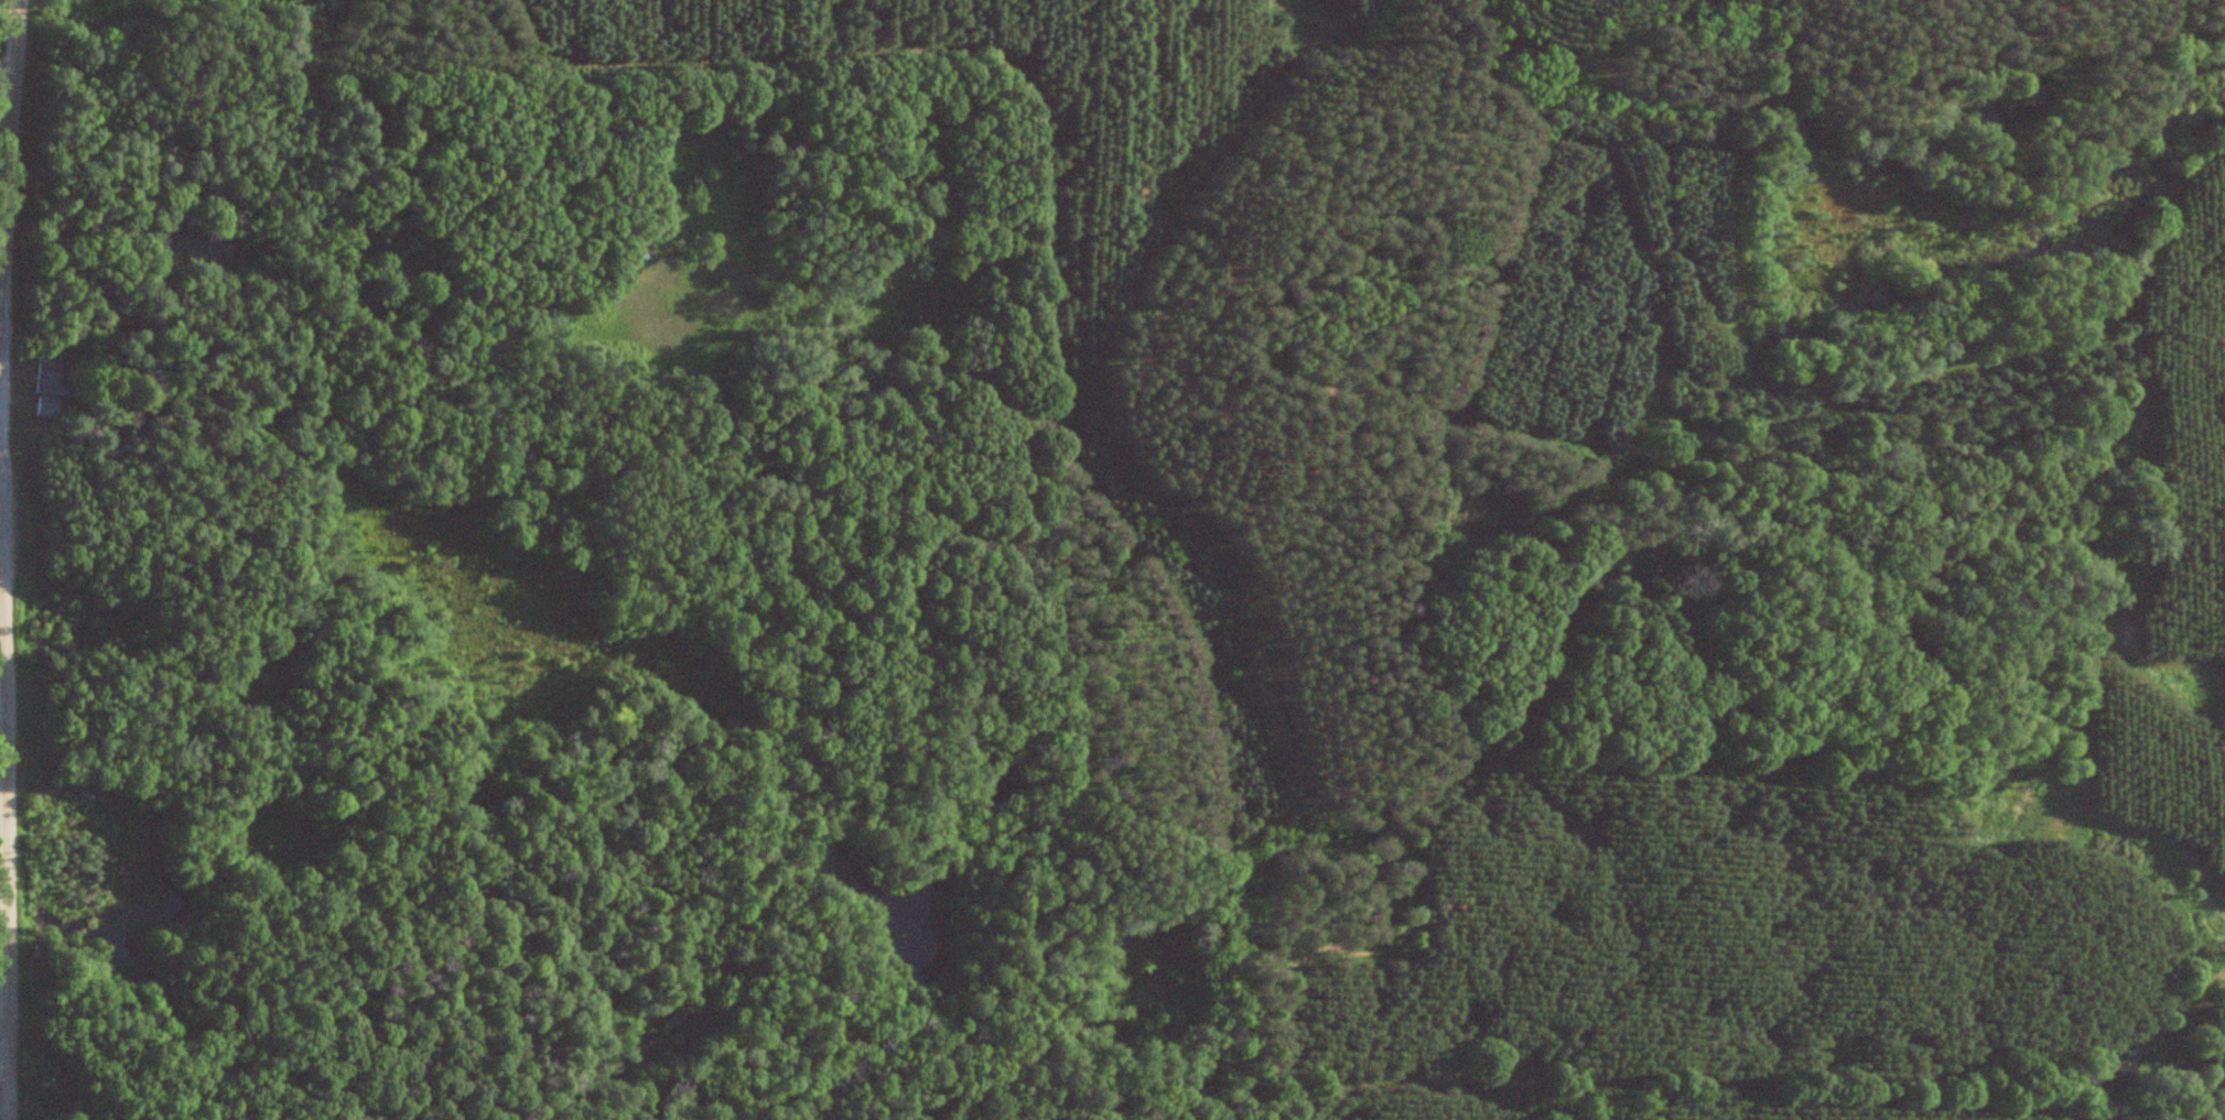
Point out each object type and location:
road: (9, 152)
building: (46, 385)
road: (6, 769)

